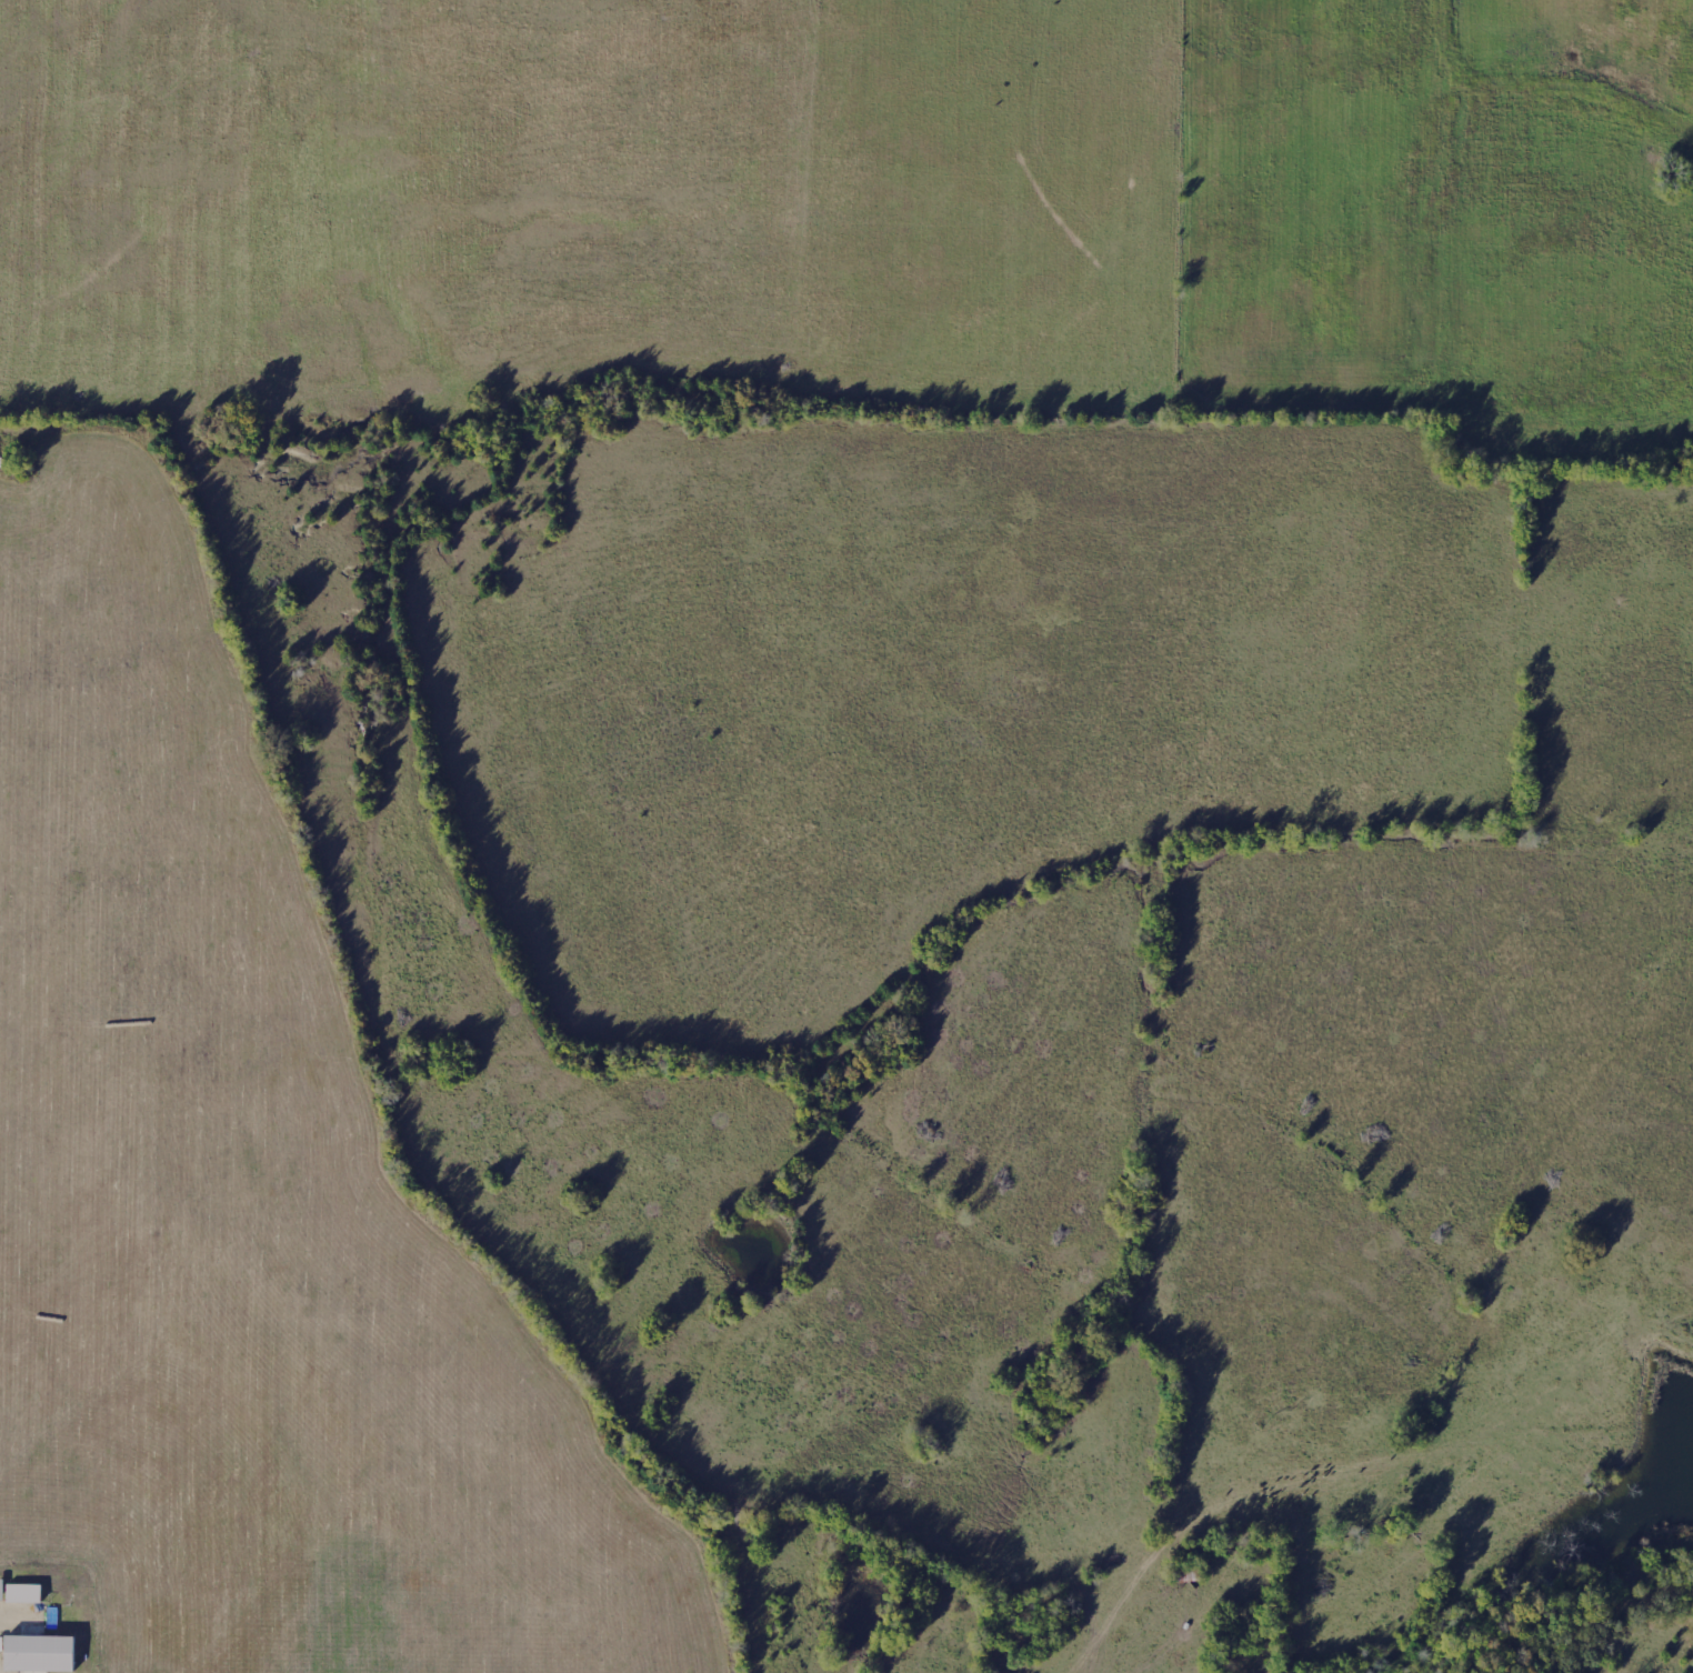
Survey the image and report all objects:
building: (26, 1593)
building: (39, 1654)

